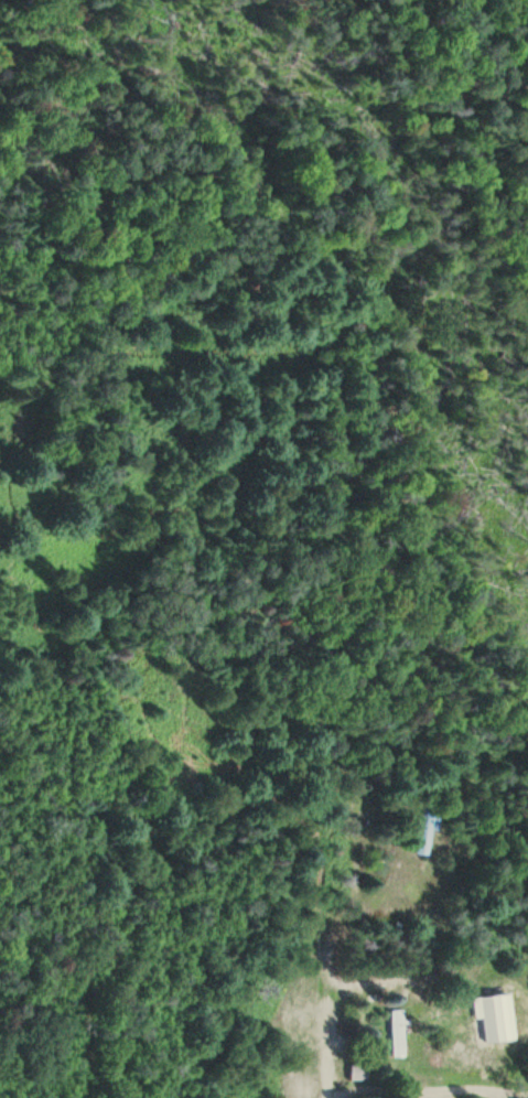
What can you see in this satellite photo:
road: (319, 485)
building: (425, 831)
building: (400, 1034)
road: (327, 1045)
building: (362, 1073)

